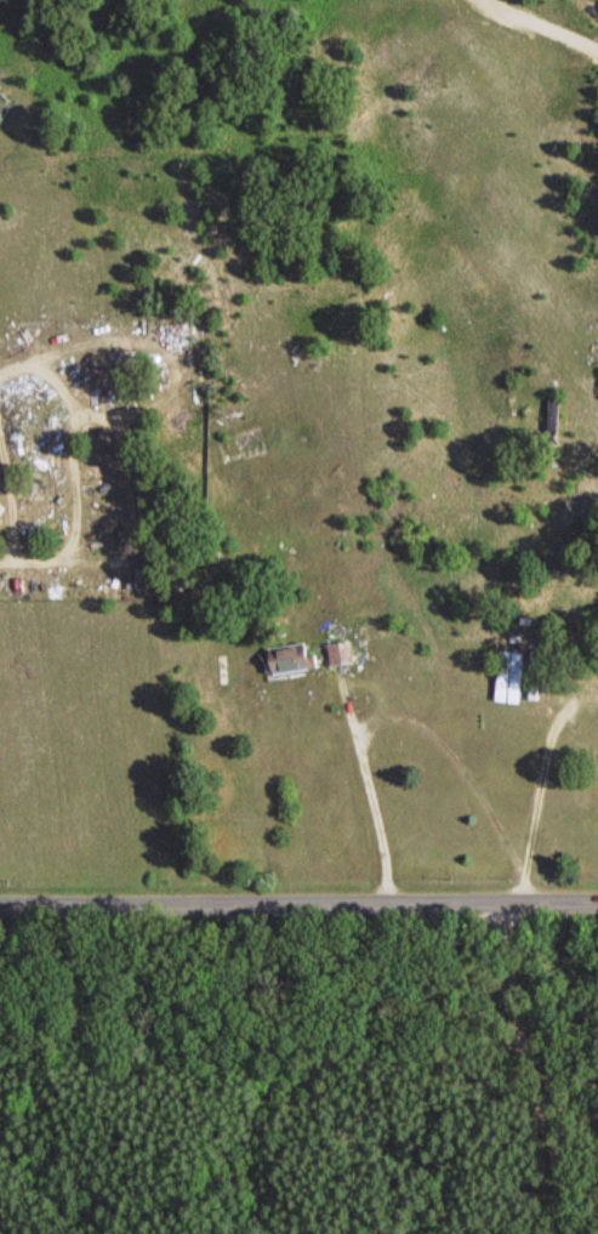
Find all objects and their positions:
road: (551, 24)
building: (552, 415)
building: (337, 652)
building: (285, 658)
building: (532, 675)
building: (513, 676)
road: (542, 785)
road: (298, 900)
road: (529, 1069)

